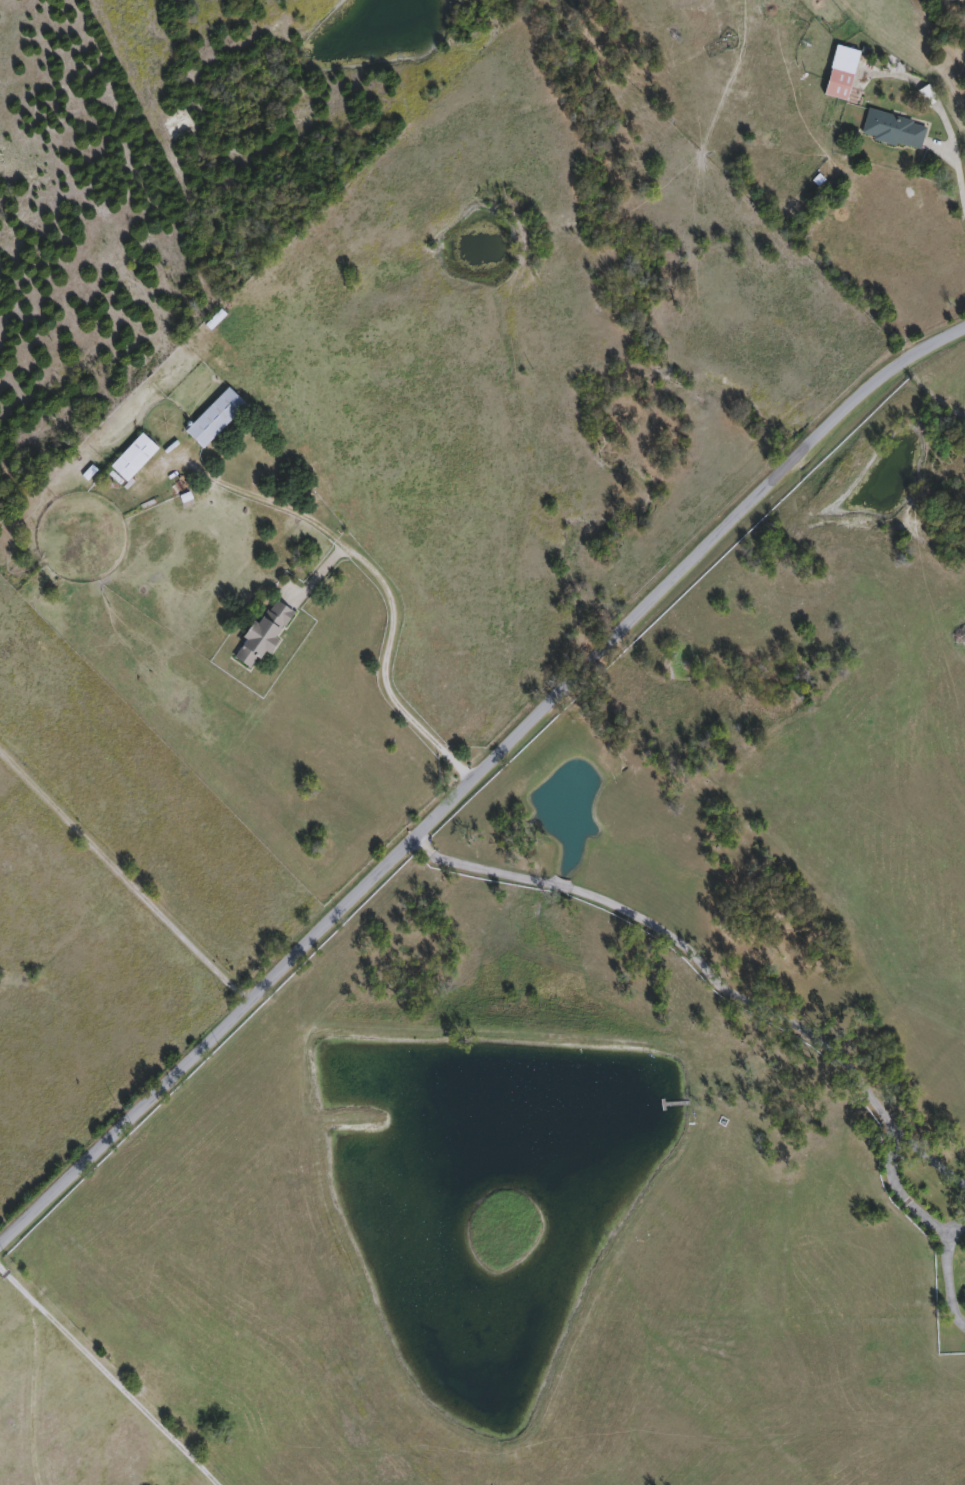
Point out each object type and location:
building: (843, 74)
building: (895, 131)
road: (955, 185)
building: (216, 419)
building: (134, 458)
road: (381, 577)
building: (264, 634)
road: (476, 775)
road: (475, 870)
road: (124, 875)
road: (559, 890)
road: (792, 1029)
road: (925, 1154)
road: (949, 1230)
road: (943, 1287)
road: (107, 1375)
road: (26, 1390)
building: (696, 1417)

